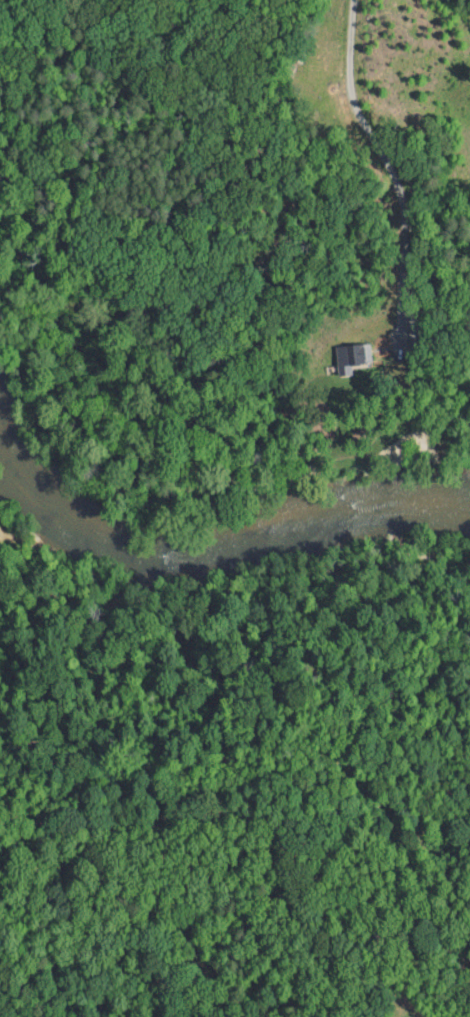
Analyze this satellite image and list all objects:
road: (384, 159)
building: (339, 351)
river: (204, 554)

